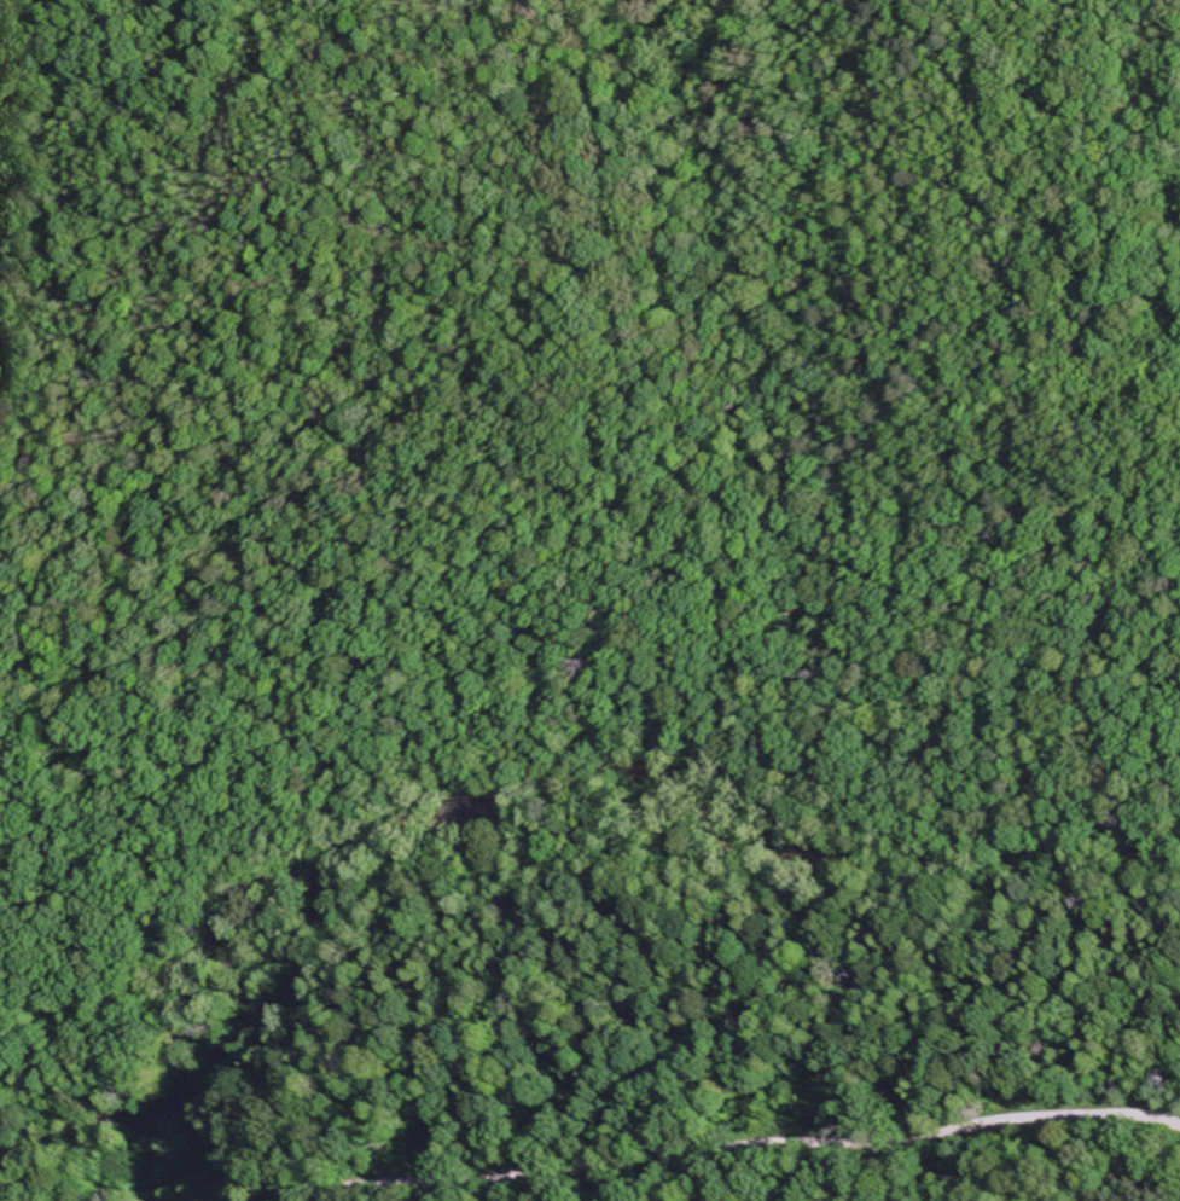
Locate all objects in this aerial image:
road: (732, 1148)

